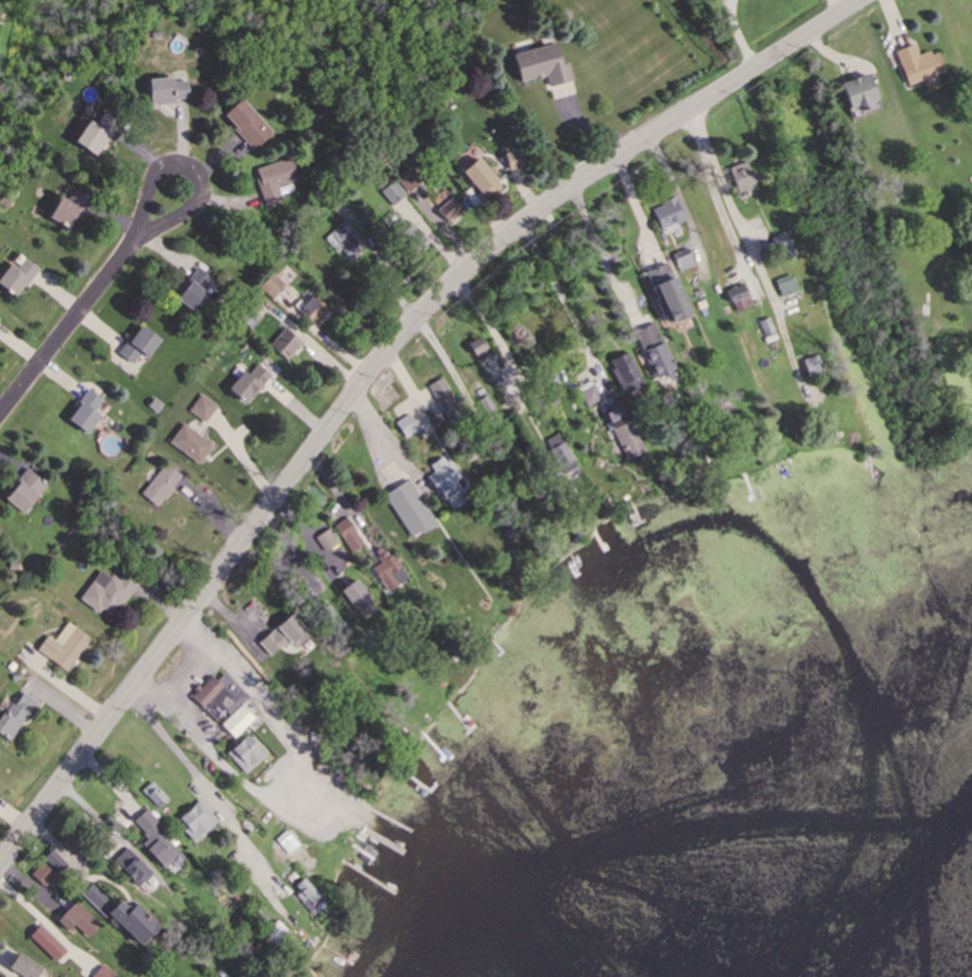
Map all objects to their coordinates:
road: (841, 8)
road: (737, 37)
building: (921, 69)
building: (547, 71)
building: (170, 92)
building: (863, 95)
building: (248, 127)
building: (98, 134)
building: (517, 161)
building: (744, 178)
building: (276, 181)
building: (484, 181)
building: (410, 182)
building: (393, 196)
road: (715, 199)
road: (636, 211)
building: (66, 215)
road: (734, 215)
building: (668, 216)
building: (409, 236)
building: (341, 239)
road: (597, 252)
building: (686, 264)
building: (18, 278)
building: (273, 288)
building: (787, 288)
building: (197, 294)
road: (559, 295)
building: (670, 296)
building: (740, 300)
road: (91, 306)
building: (314, 313)
road: (495, 323)
building: (140, 347)
building: (286, 347)
building: (660, 362)
building: (814, 369)
road: (377, 370)
building: (627, 376)
building: (249, 386)
building: (446, 403)
building: (87, 414)
building: (408, 428)
building: (628, 438)
building: (192, 446)
building: (162, 487)
building: (26, 494)
building: (411, 512)
building: (110, 595)
building: (358, 599)
building: (282, 639)
building: (65, 650)
road: (187, 674)
building: (17, 717)
building: (238, 724)
building: (0, 755)
road: (180, 756)
building: (248, 756)
building: (197, 822)
building: (165, 852)
building: (135, 867)
building: (307, 894)
building: (126, 917)
building: (76, 920)
building: (48, 944)
building: (28, 968)
building: (103, 974)

